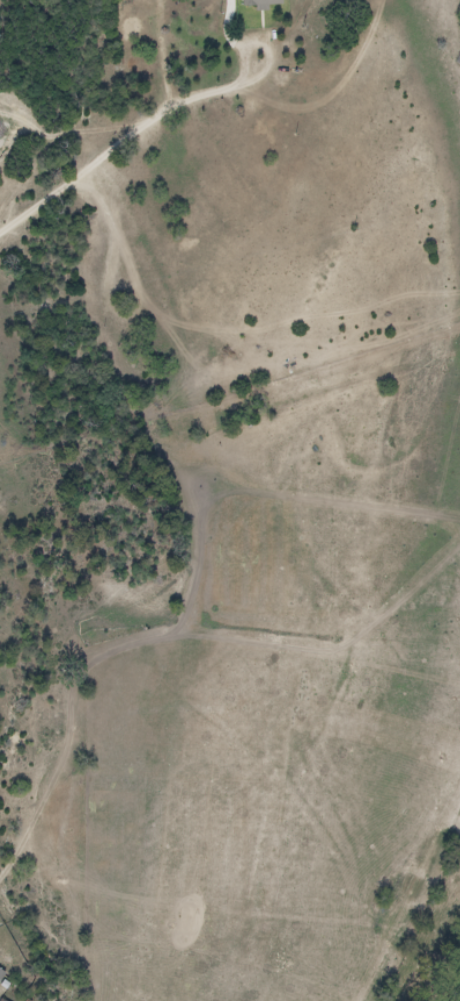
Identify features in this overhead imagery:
building: (263, 4)
road: (81, 175)
building: (2, 975)

